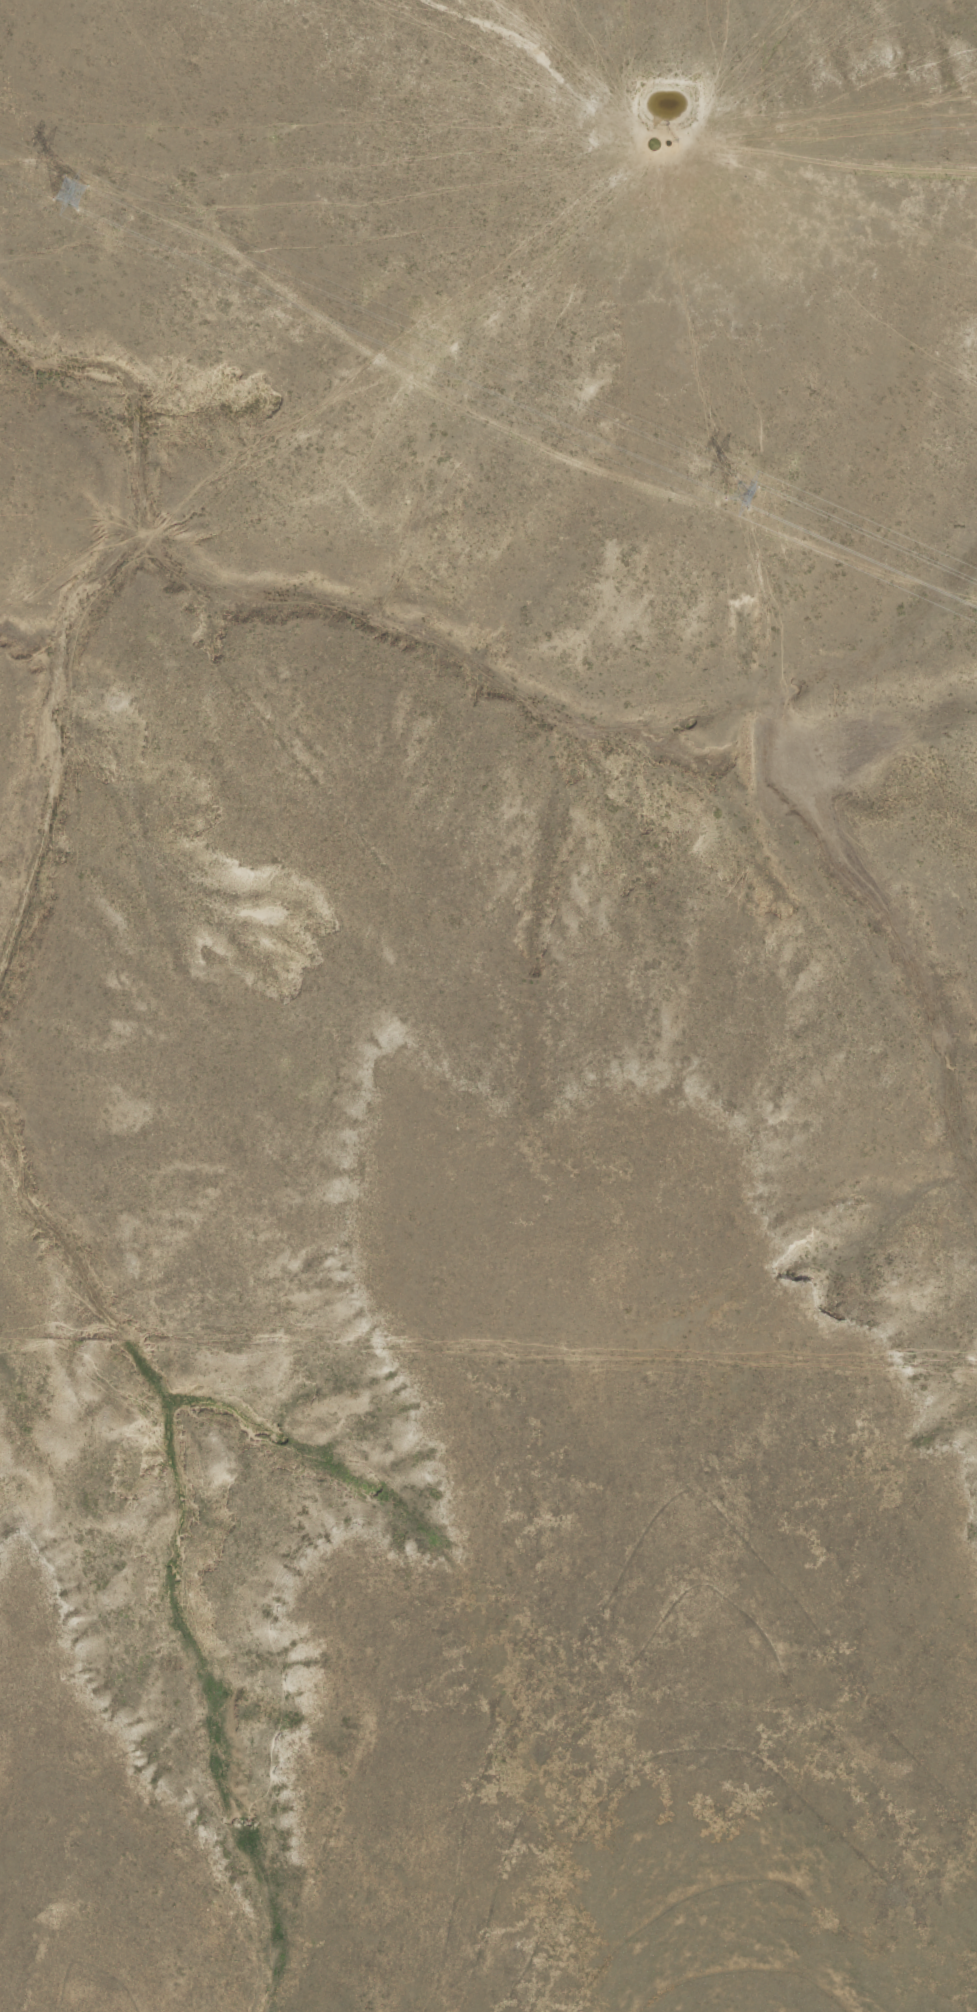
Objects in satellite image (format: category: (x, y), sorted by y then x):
road: (614, 167)
power tower: (72, 195)
power tower: (743, 499)

